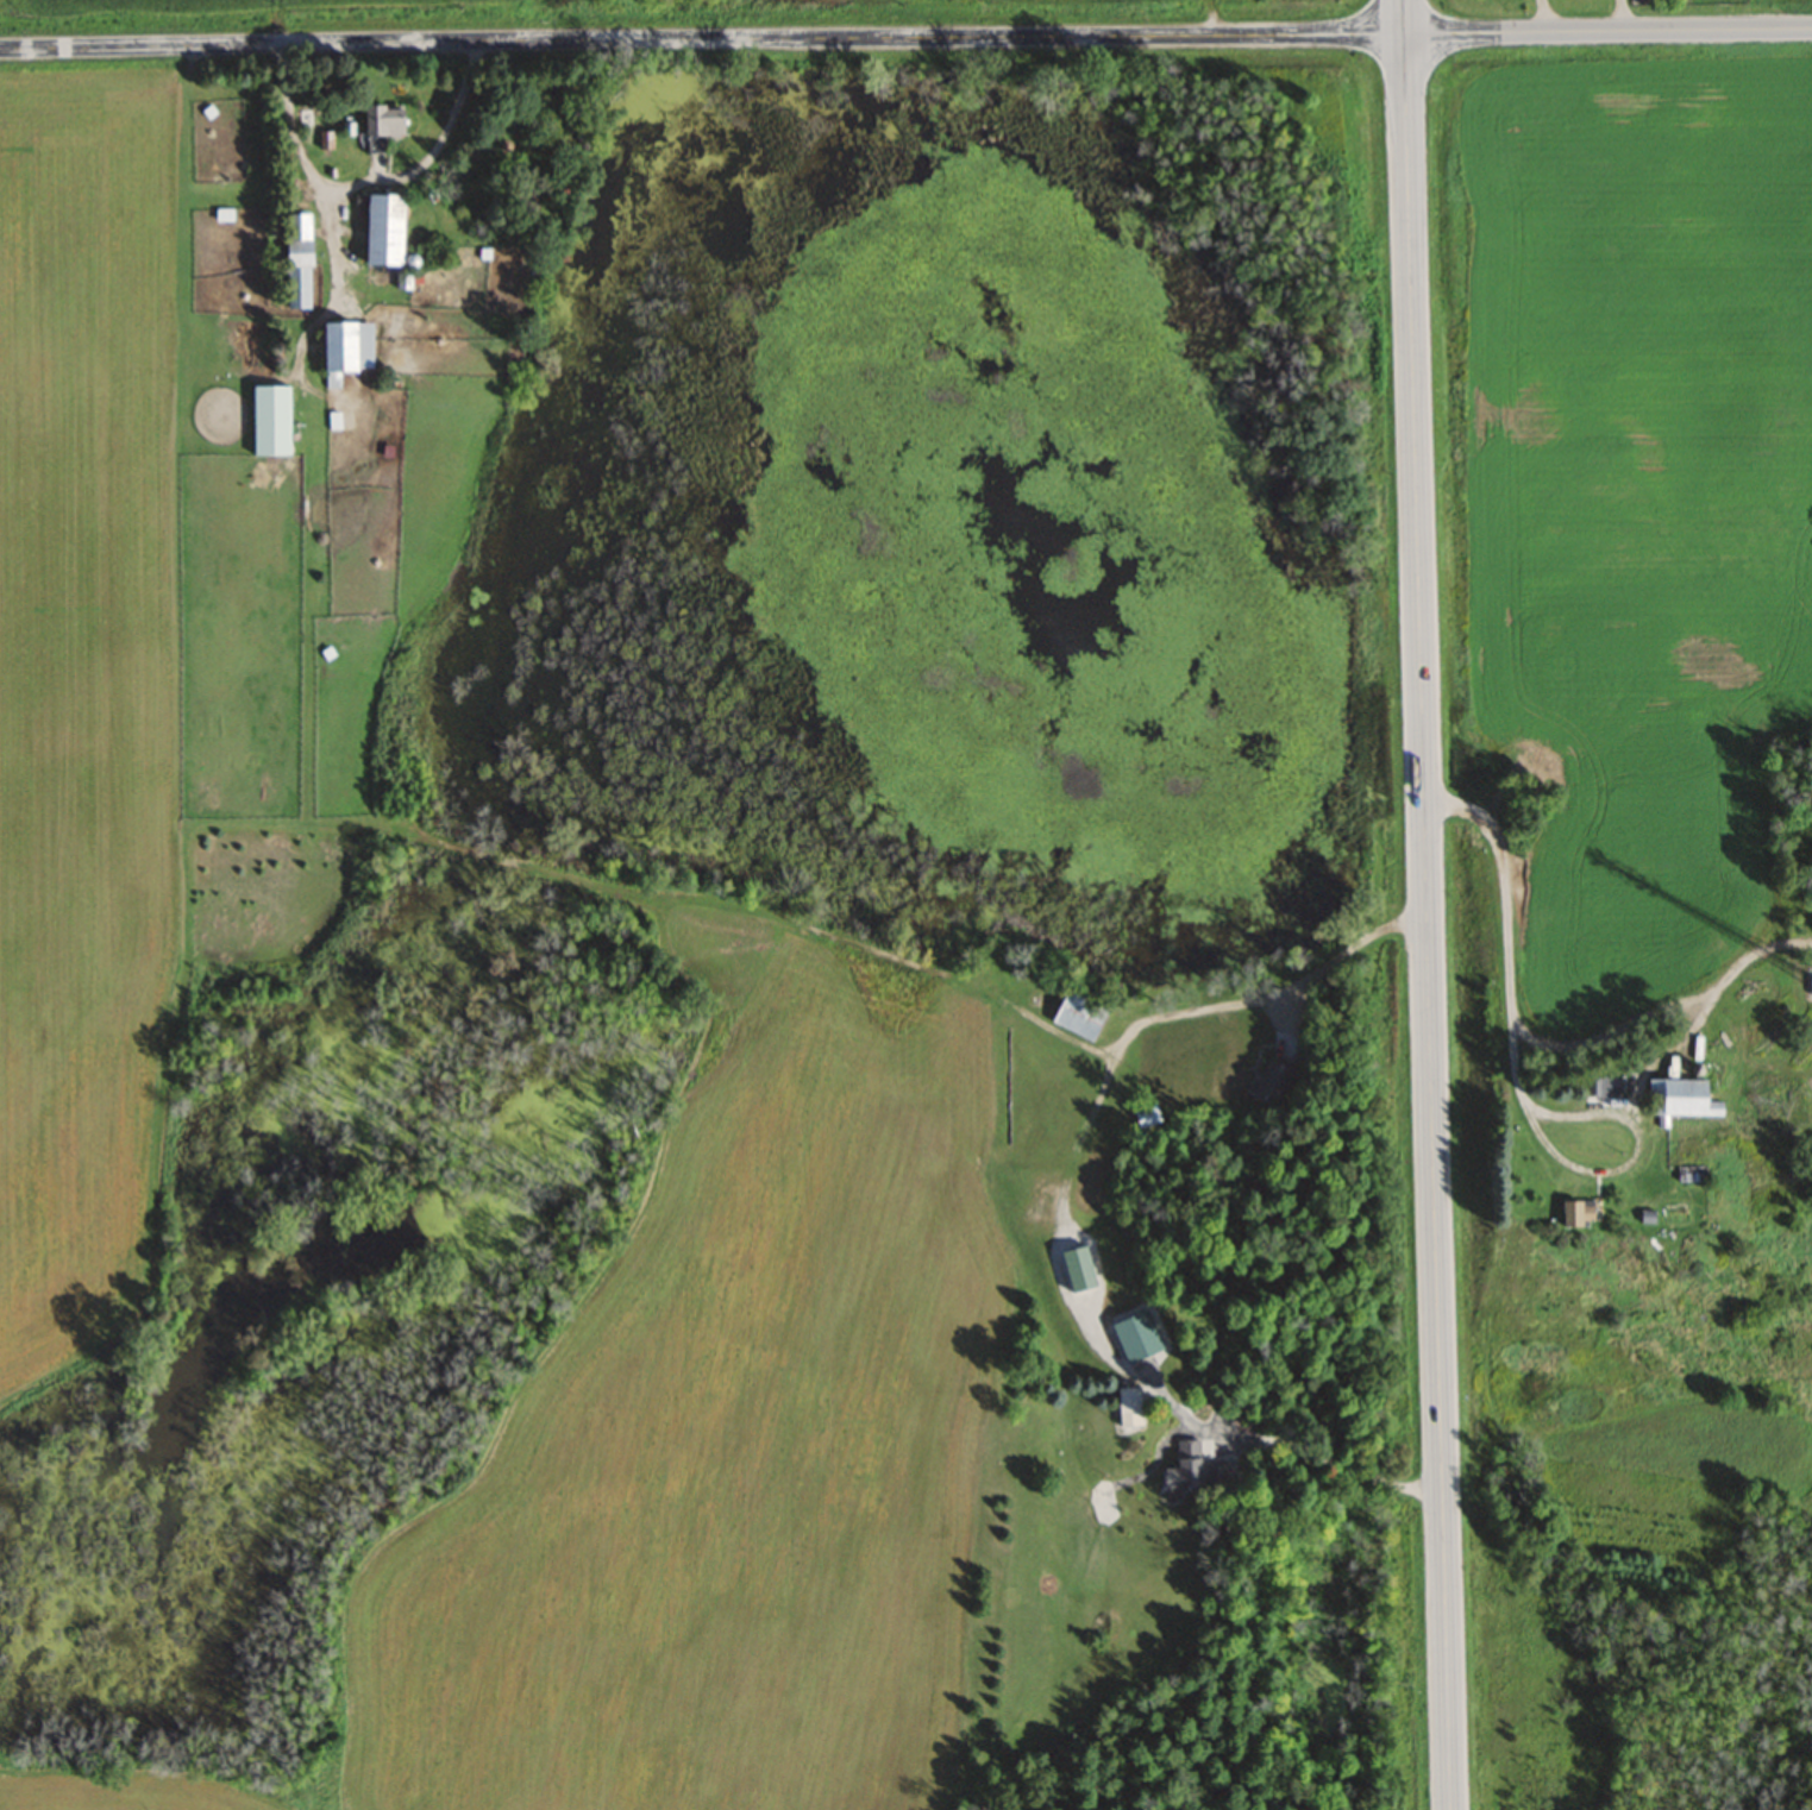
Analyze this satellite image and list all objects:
road: (905, 37)
building: (312, 118)
building: (381, 121)
building: (381, 231)
building: (295, 262)
building: (336, 348)
road: (1428, 904)
building: (1810, 985)
building: (1078, 1014)
building: (1269, 1081)
building: (1678, 1098)
building: (1145, 1114)
building: (1689, 1173)
building: (1575, 1213)
building: (1135, 1335)
building: (1128, 1406)
building: (1189, 1469)

